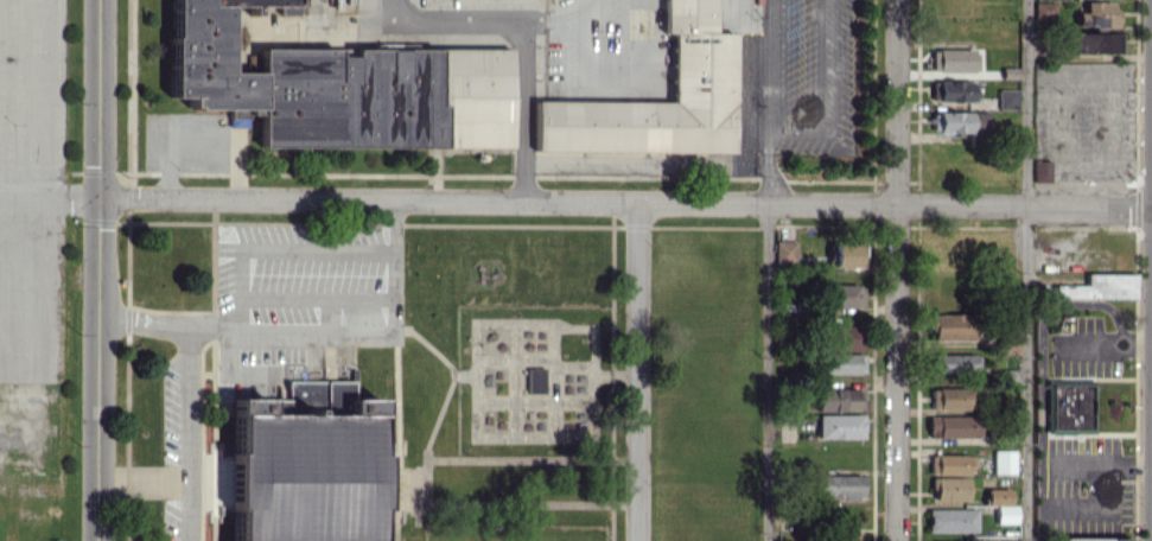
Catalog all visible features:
building: (1044, 11)
building: (1096, 14)
road: (526, 34)
building: (1094, 42)
building: (951, 59)
building: (702, 64)
building: (304, 79)
building: (953, 90)
road: (44, 98)
building: (1007, 98)
road: (897, 102)
building: (962, 125)
road: (795, 127)
road: (765, 164)
building: (1042, 171)
parking lot: (31, 187)
road: (49, 198)
traffic signals: (98, 199)
road: (497, 201)
road: (1024, 204)
building: (784, 252)
building: (844, 255)
road: (98, 270)
road: (1026, 270)
building: (1099, 287)
parking lot: (303, 293)
building: (845, 295)
building: (951, 326)
road: (311, 329)
building: (846, 337)
building: (841, 363)
building: (954, 363)
road: (637, 371)
road: (768, 371)
road: (896, 373)
building: (535, 380)
building: (948, 397)
building: (839, 399)
building: (1070, 407)
building: (840, 426)
building: (953, 426)
flagpole: (145, 433)
road: (190, 434)
building: (1004, 460)
building: (948, 464)
building: (300, 470)
building: (841, 486)
building: (950, 488)
building: (1001, 504)
building: (951, 520)
park: (503, 524)
building: (842, 529)
building: (1090, 539)
building: (963, 540)

